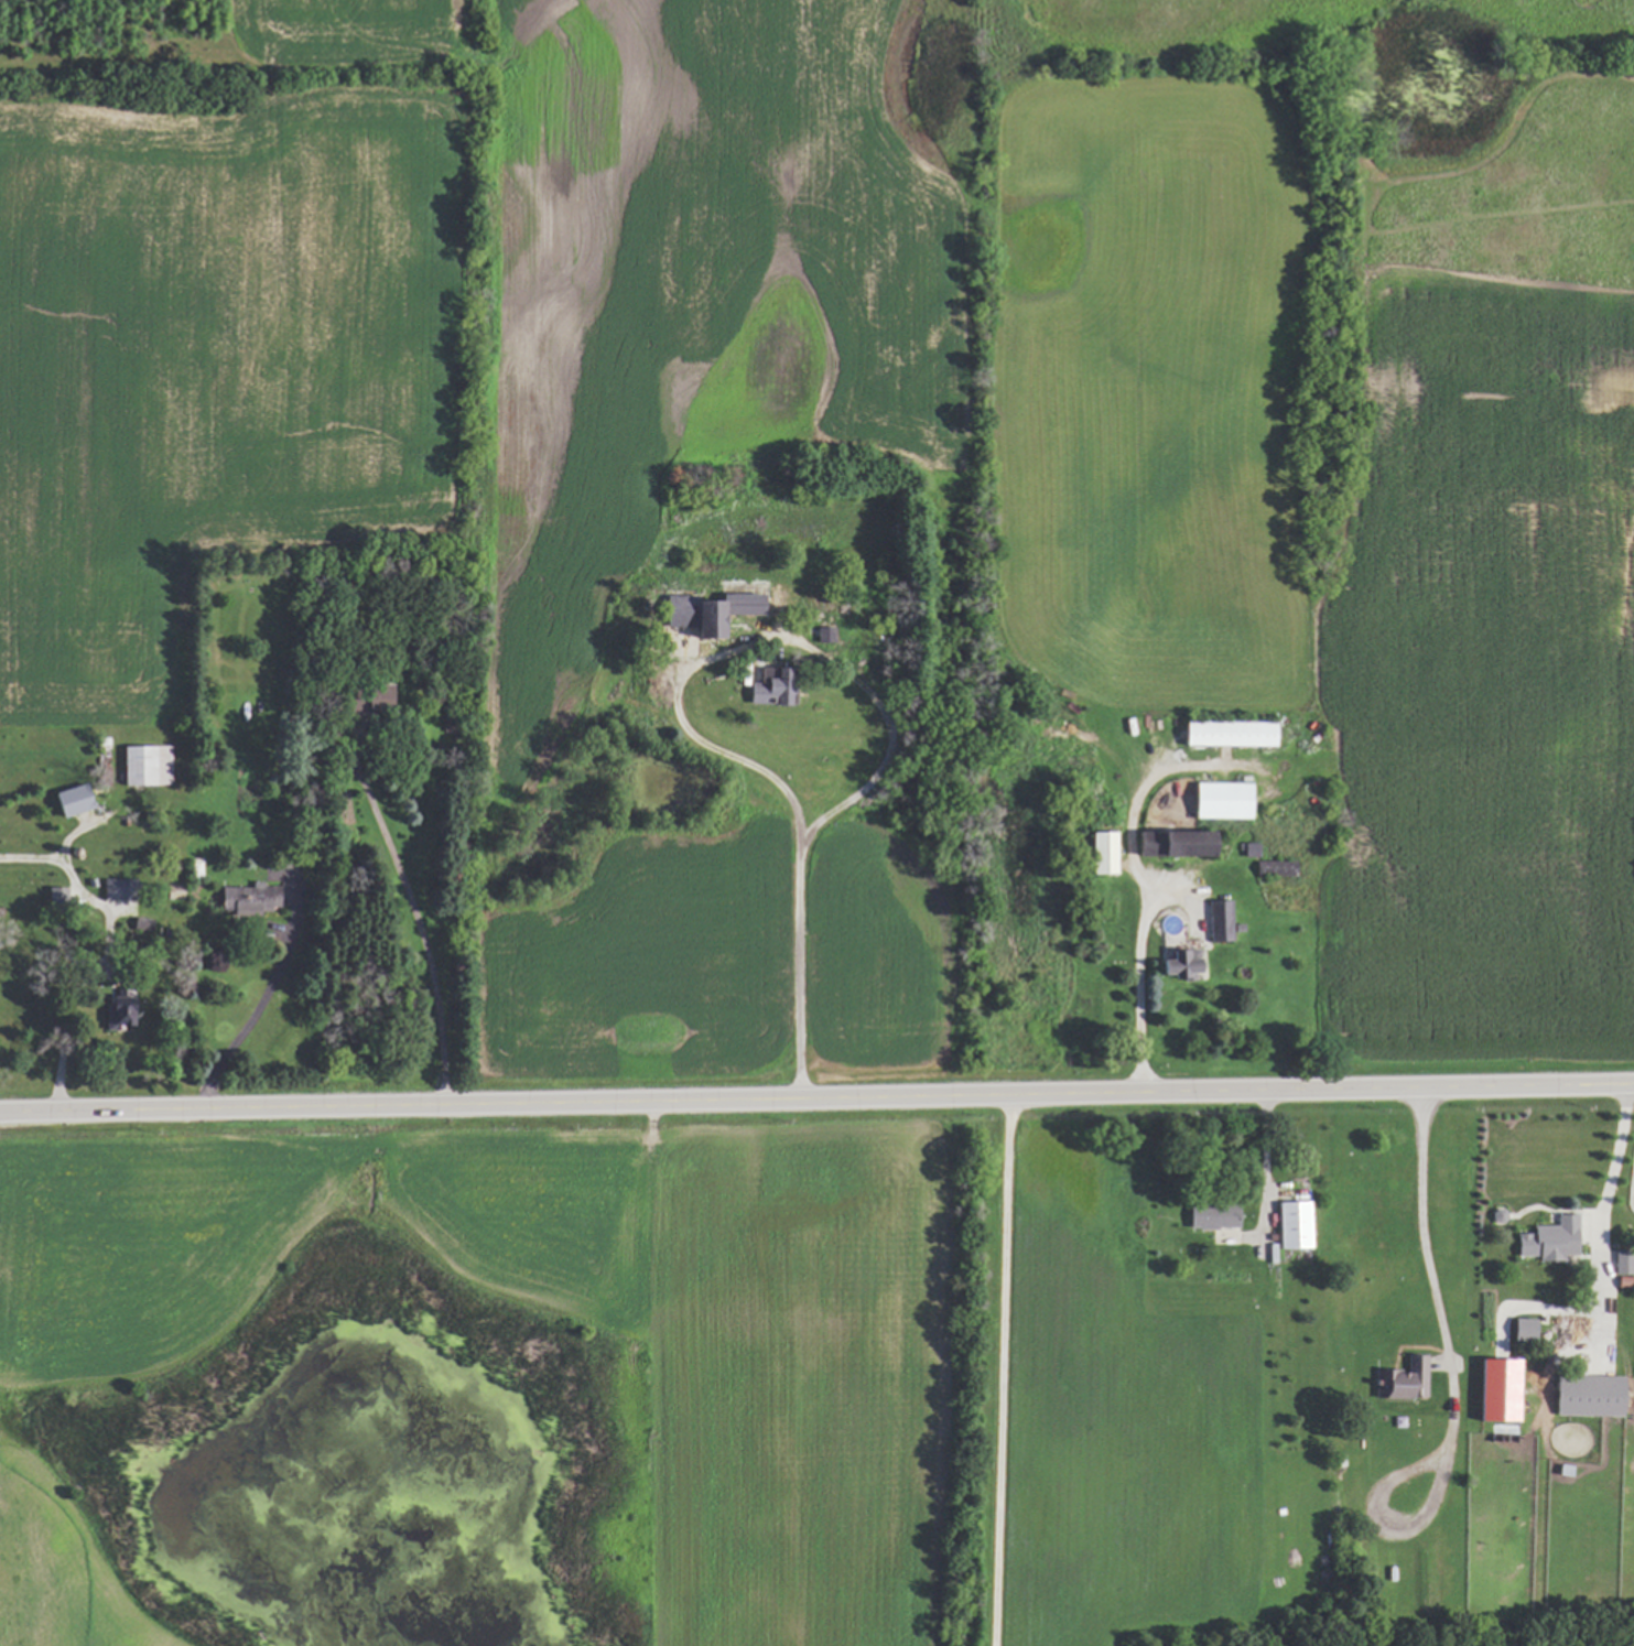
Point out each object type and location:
crop: (844, 421)
building: (673, 609)
building: (724, 609)
building: (767, 686)
building: (370, 696)
building: (1226, 733)
building: (143, 765)
building: (68, 800)
building: (1219, 800)
road: (794, 808)
building: (1171, 843)
building: (1248, 849)
building: (1102, 852)
building: (1273, 868)
building: (245, 899)
building: (1218, 920)
road: (424, 932)
road: (72, 957)
building: (1178, 964)
road: (1138, 993)
building: (117, 1011)
road: (244, 1025)
road: (816, 1100)
road: (1265, 1171)
building: (1210, 1215)
road: (1601, 1216)
building: (1292, 1224)
building: (1548, 1239)
building: (1622, 1261)
road: (1440, 1299)
building: (1521, 1330)
road: (996, 1371)
building: (1404, 1382)
building: (1495, 1390)
building: (1586, 1395)

